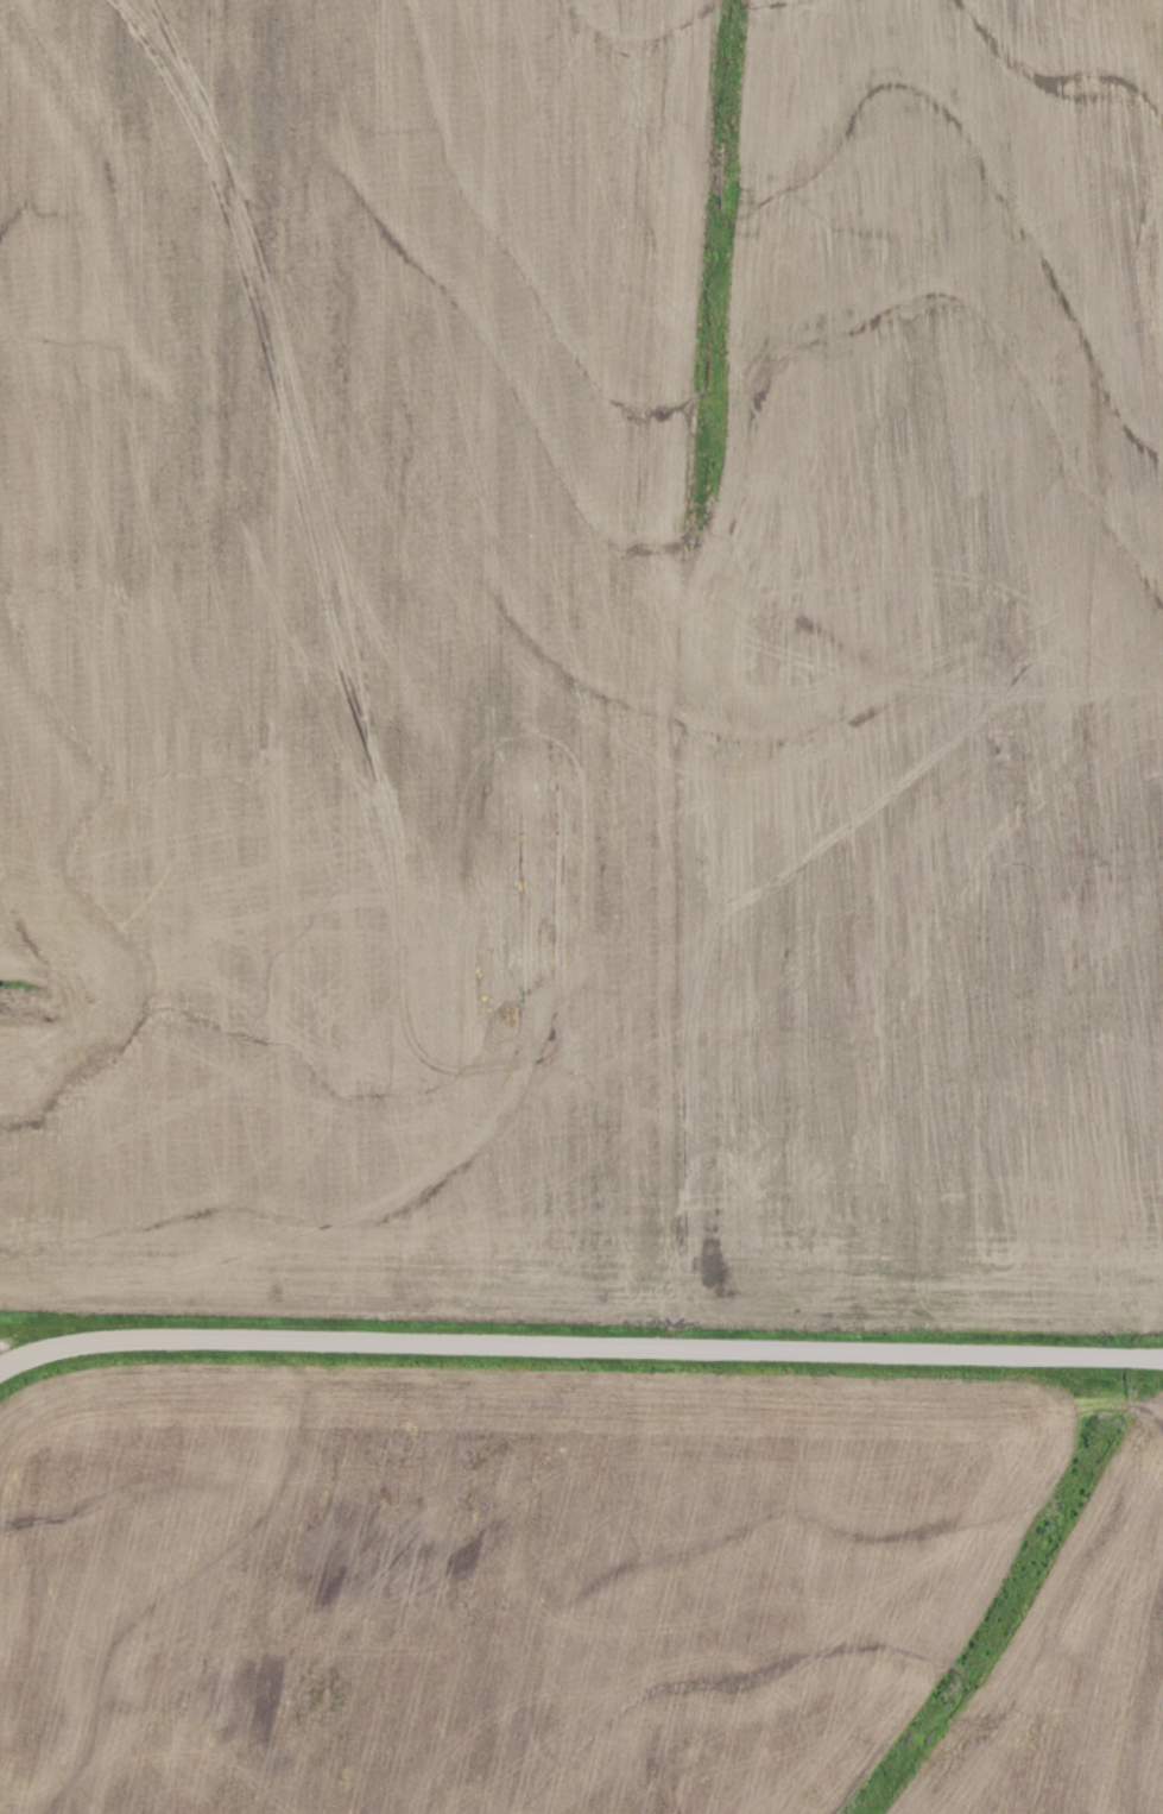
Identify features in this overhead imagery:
road: (579, 1347)

